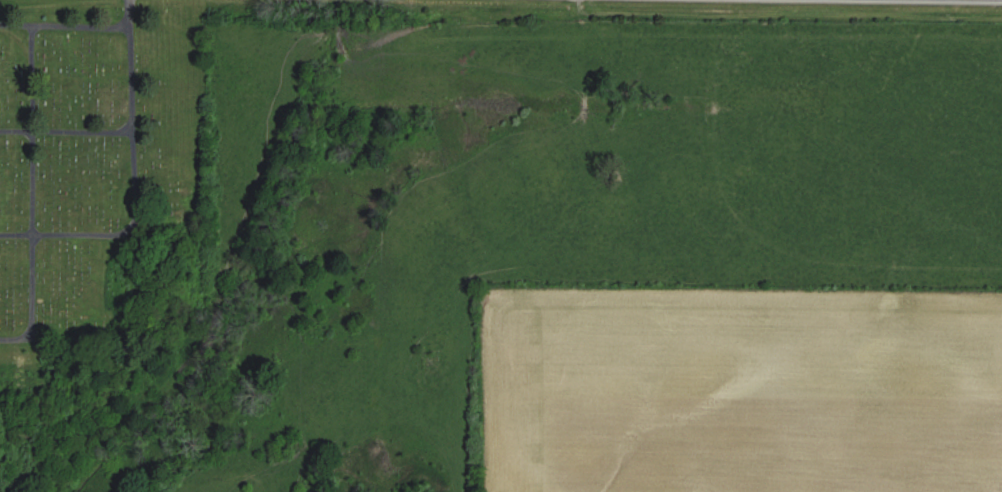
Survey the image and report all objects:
park: (93, 147)

